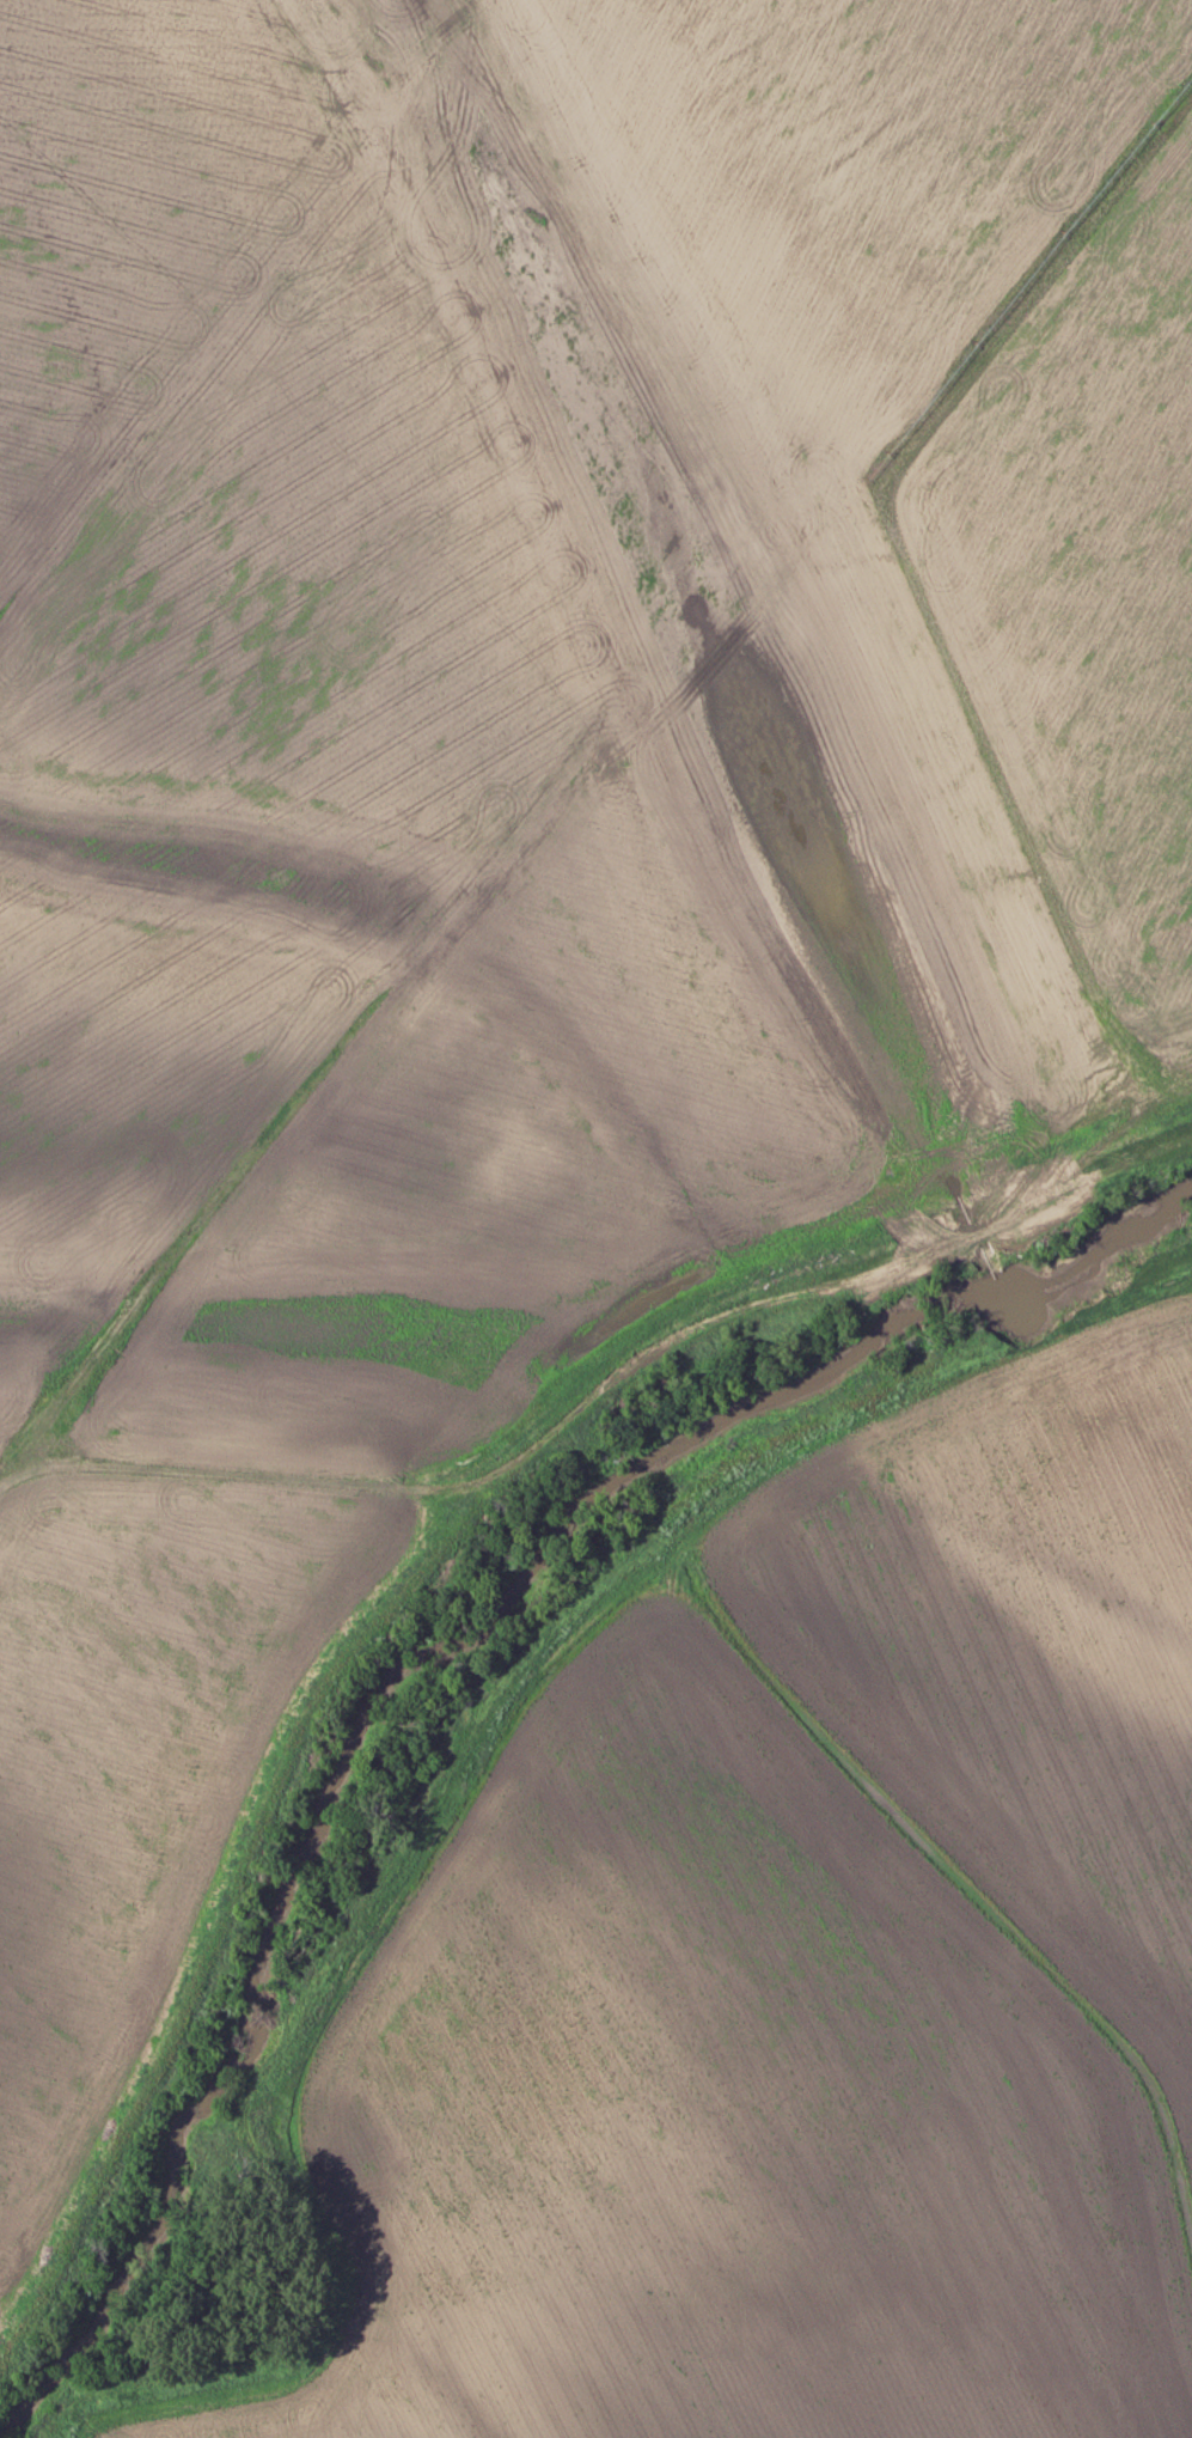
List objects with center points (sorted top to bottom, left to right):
crop: (521, 822)
road: (458, 1776)
crop: (812, 1976)

